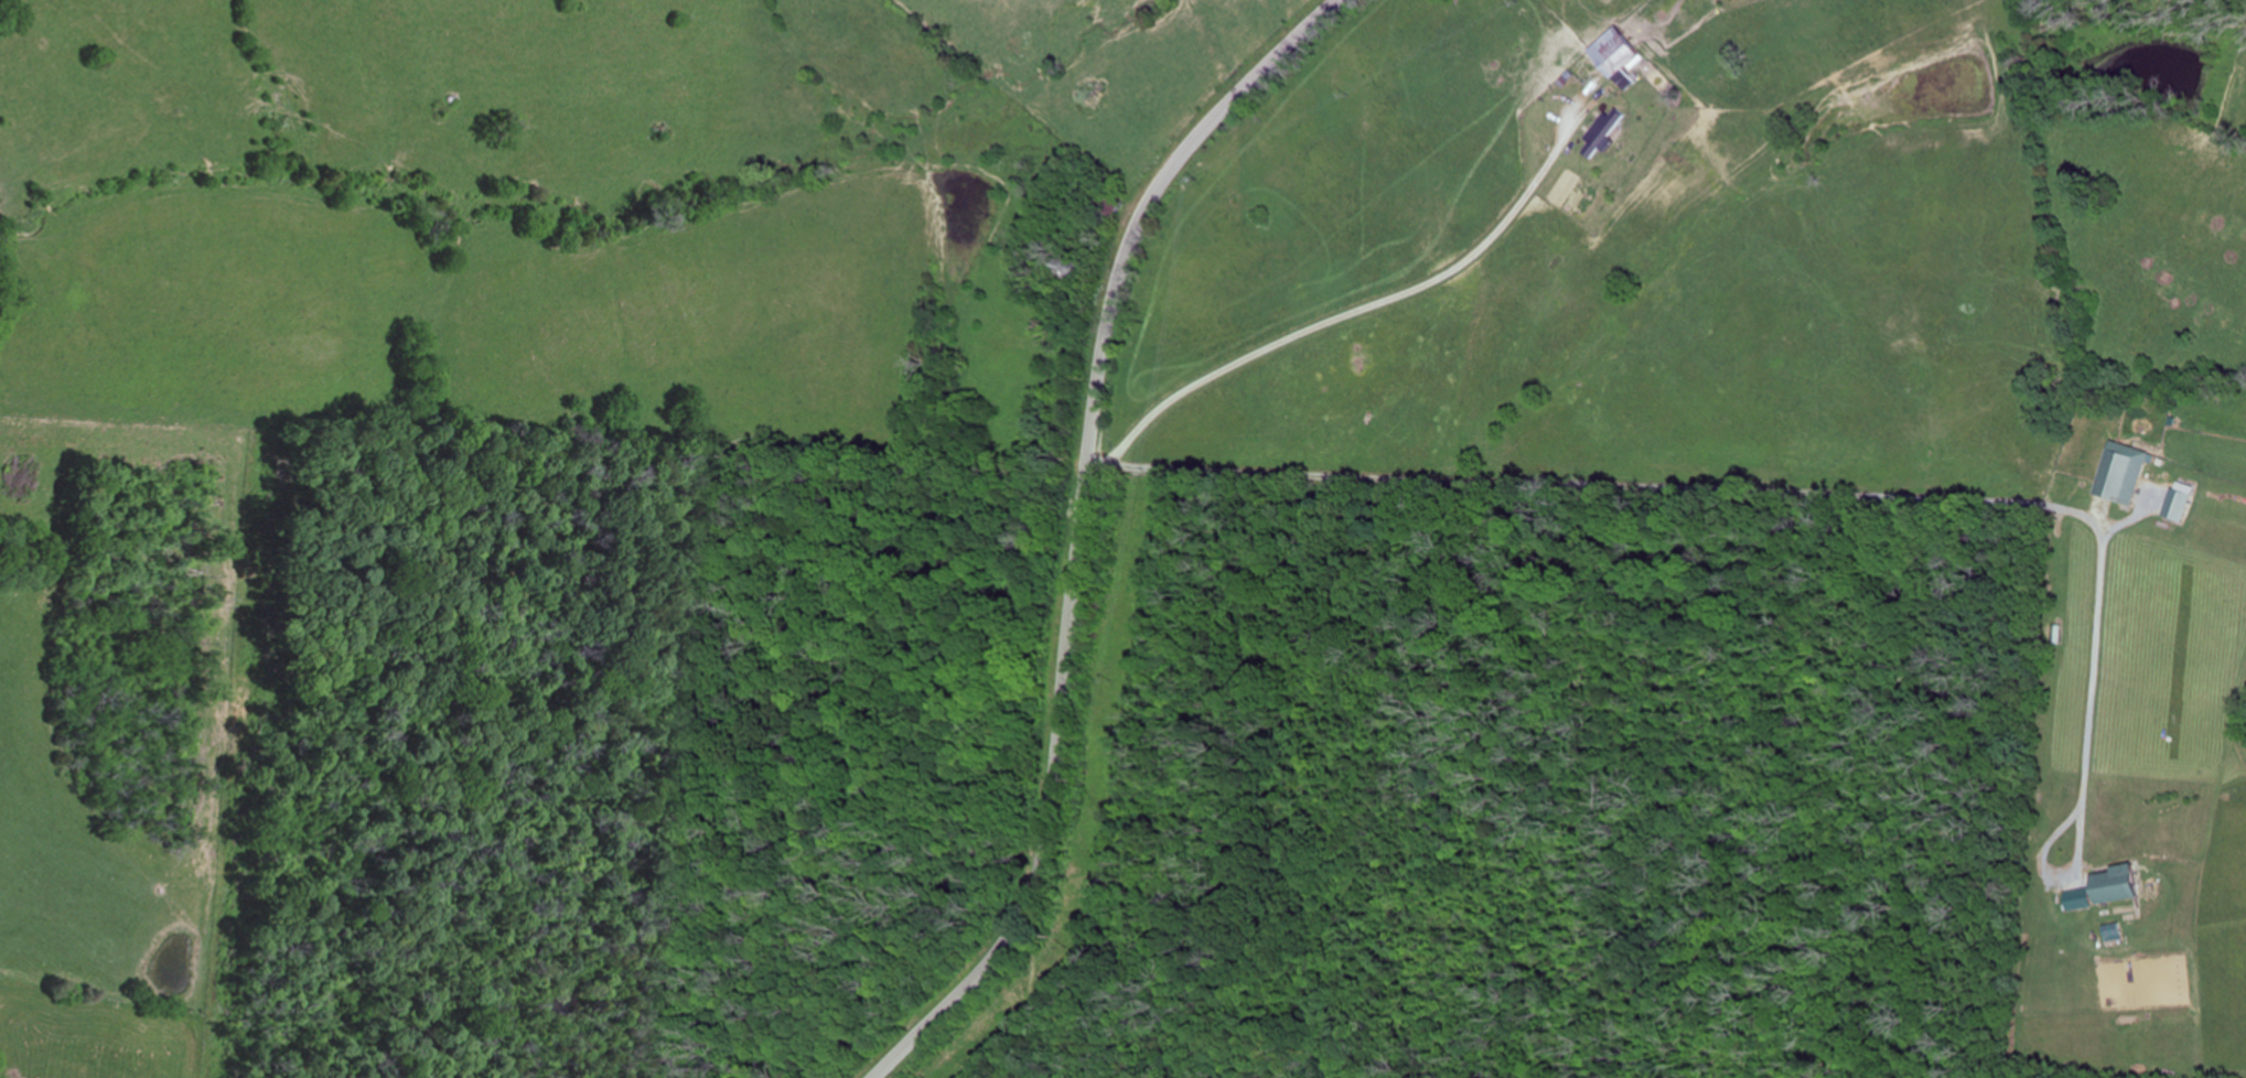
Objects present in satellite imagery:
building: (1614, 54)
building: (1600, 133)
building: (1108, 204)
building: (1066, 267)
road: (1395, 311)
building: (2121, 472)
road: (1078, 526)
building: (2113, 884)

